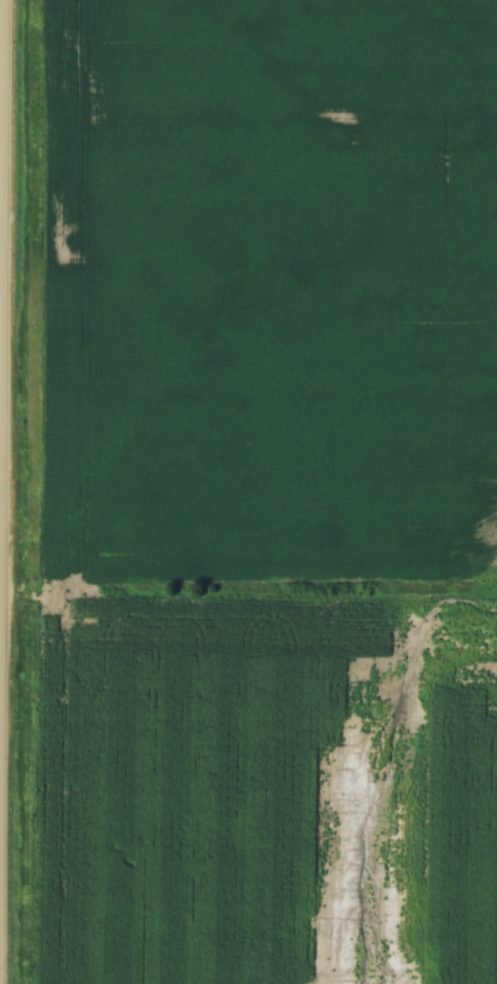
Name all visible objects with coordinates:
road: (1, 335)

